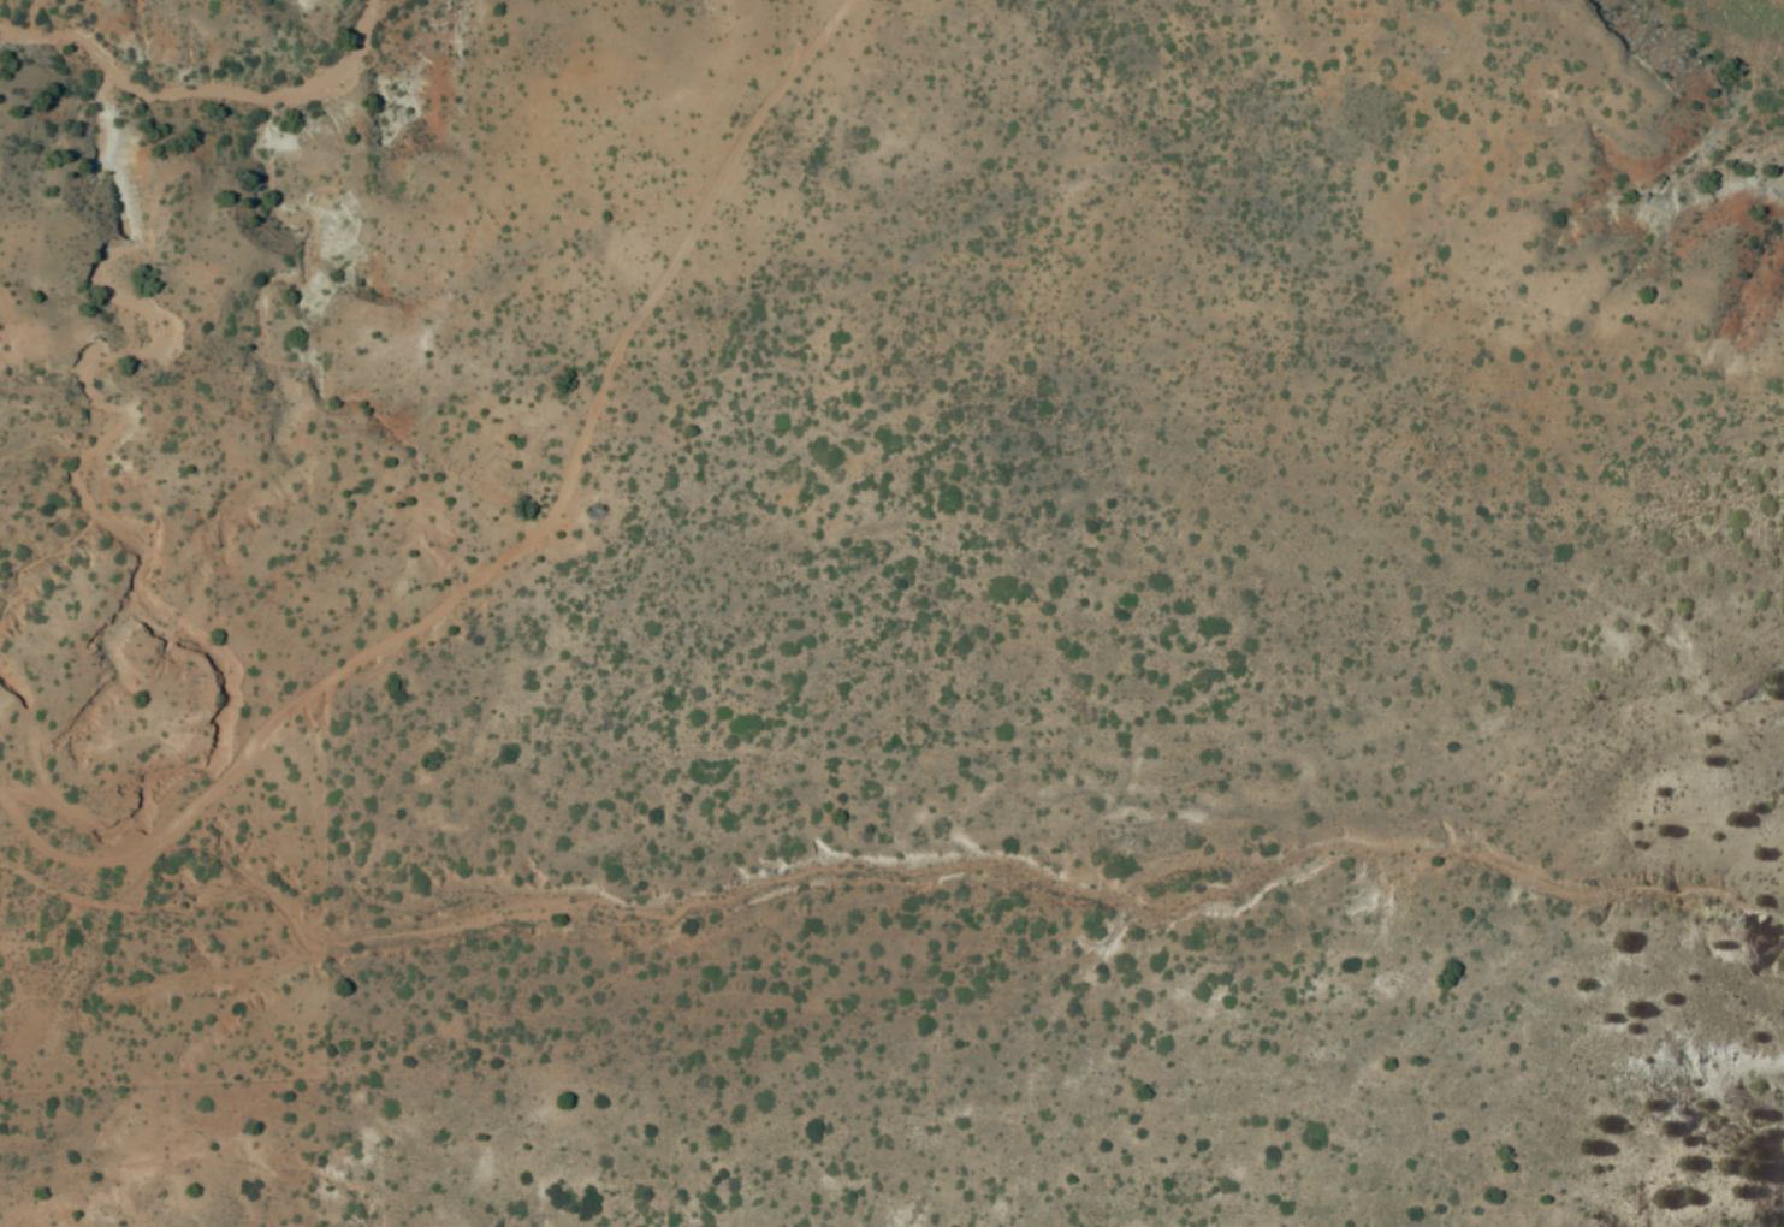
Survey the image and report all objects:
road: (544, 524)
park: (1140, 842)

